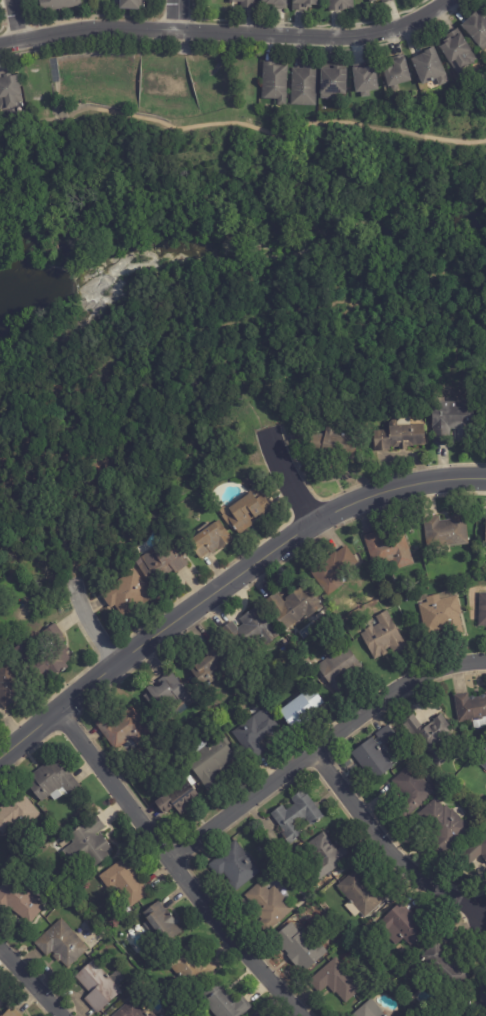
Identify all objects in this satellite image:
building: (373, 1)
building: (387, 1)
building: (244, 3)
building: (275, 3)
building: (304, 4)
building: (57, 5)
building: (130, 5)
building: (340, 5)
building: (485, 5)
road: (180, 16)
road: (18, 19)
building: (477, 30)
building: (454, 35)
road: (226, 36)
building: (457, 55)
building: (430, 69)
building: (397, 75)
building: (275, 81)
building: (333, 82)
building: (365, 82)
building: (304, 86)
building: (9, 91)
road: (231, 124)
park: (284, 149)
park: (70, 159)
building: (283, 414)
building: (450, 419)
building: (399, 436)
building: (334, 443)
road: (295, 480)
building: (244, 511)
building: (485, 529)
building: (445, 531)
building: (210, 540)
building: (389, 550)
building: (162, 561)
building: (333, 570)
road: (224, 584)
building: (128, 594)
building: (293, 607)
building: (482, 610)
building: (441, 612)
road: (90, 624)
building: (250, 631)
building: (384, 637)
building: (297, 642)
building: (22, 653)
building: (54, 661)
building: (205, 662)
building: (340, 669)
building: (8, 684)
building: (167, 693)
building: (485, 693)
building: (301, 708)
building: (471, 710)
building: (124, 730)
building: (255, 733)
building: (430, 738)
road: (322, 750)
building: (375, 755)
building: (482, 760)
building: (210, 761)
building: (52, 782)
building: (412, 792)
building: (178, 801)
building: (16, 812)
building: (296, 817)
building: (442, 826)
building: (90, 841)
road: (387, 849)
building: (476, 850)
building: (326, 856)
building: (234, 867)
road: (179, 869)
building: (125, 881)
building: (361, 895)
building: (19, 901)
building: (267, 908)
building: (162, 923)
building: (402, 926)
building: (61, 944)
building: (300, 947)
building: (191, 968)
building: (442, 969)
building: (338, 981)
road: (30, 985)
building: (99, 986)
building: (1, 997)
building: (223, 1002)
building: (369, 1009)
building: (130, 1010)
building: (12, 1012)
building: (256, 1014)
building: (0, 1015)
building: (152, 1015)

